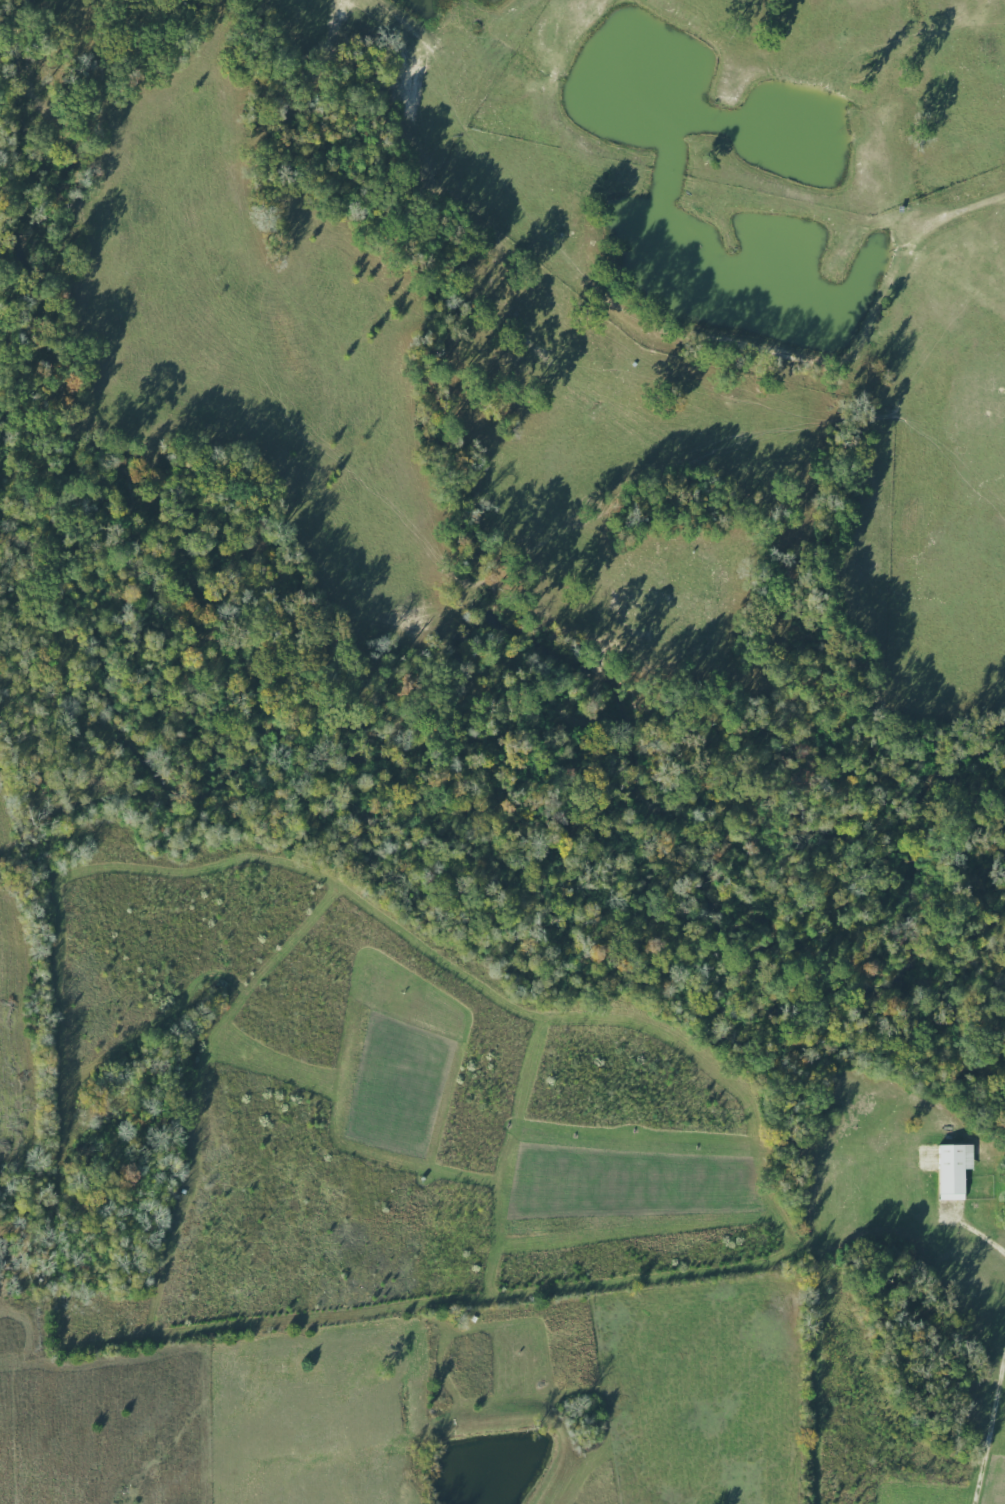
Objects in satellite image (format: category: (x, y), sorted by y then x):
building: (959, 1170)

